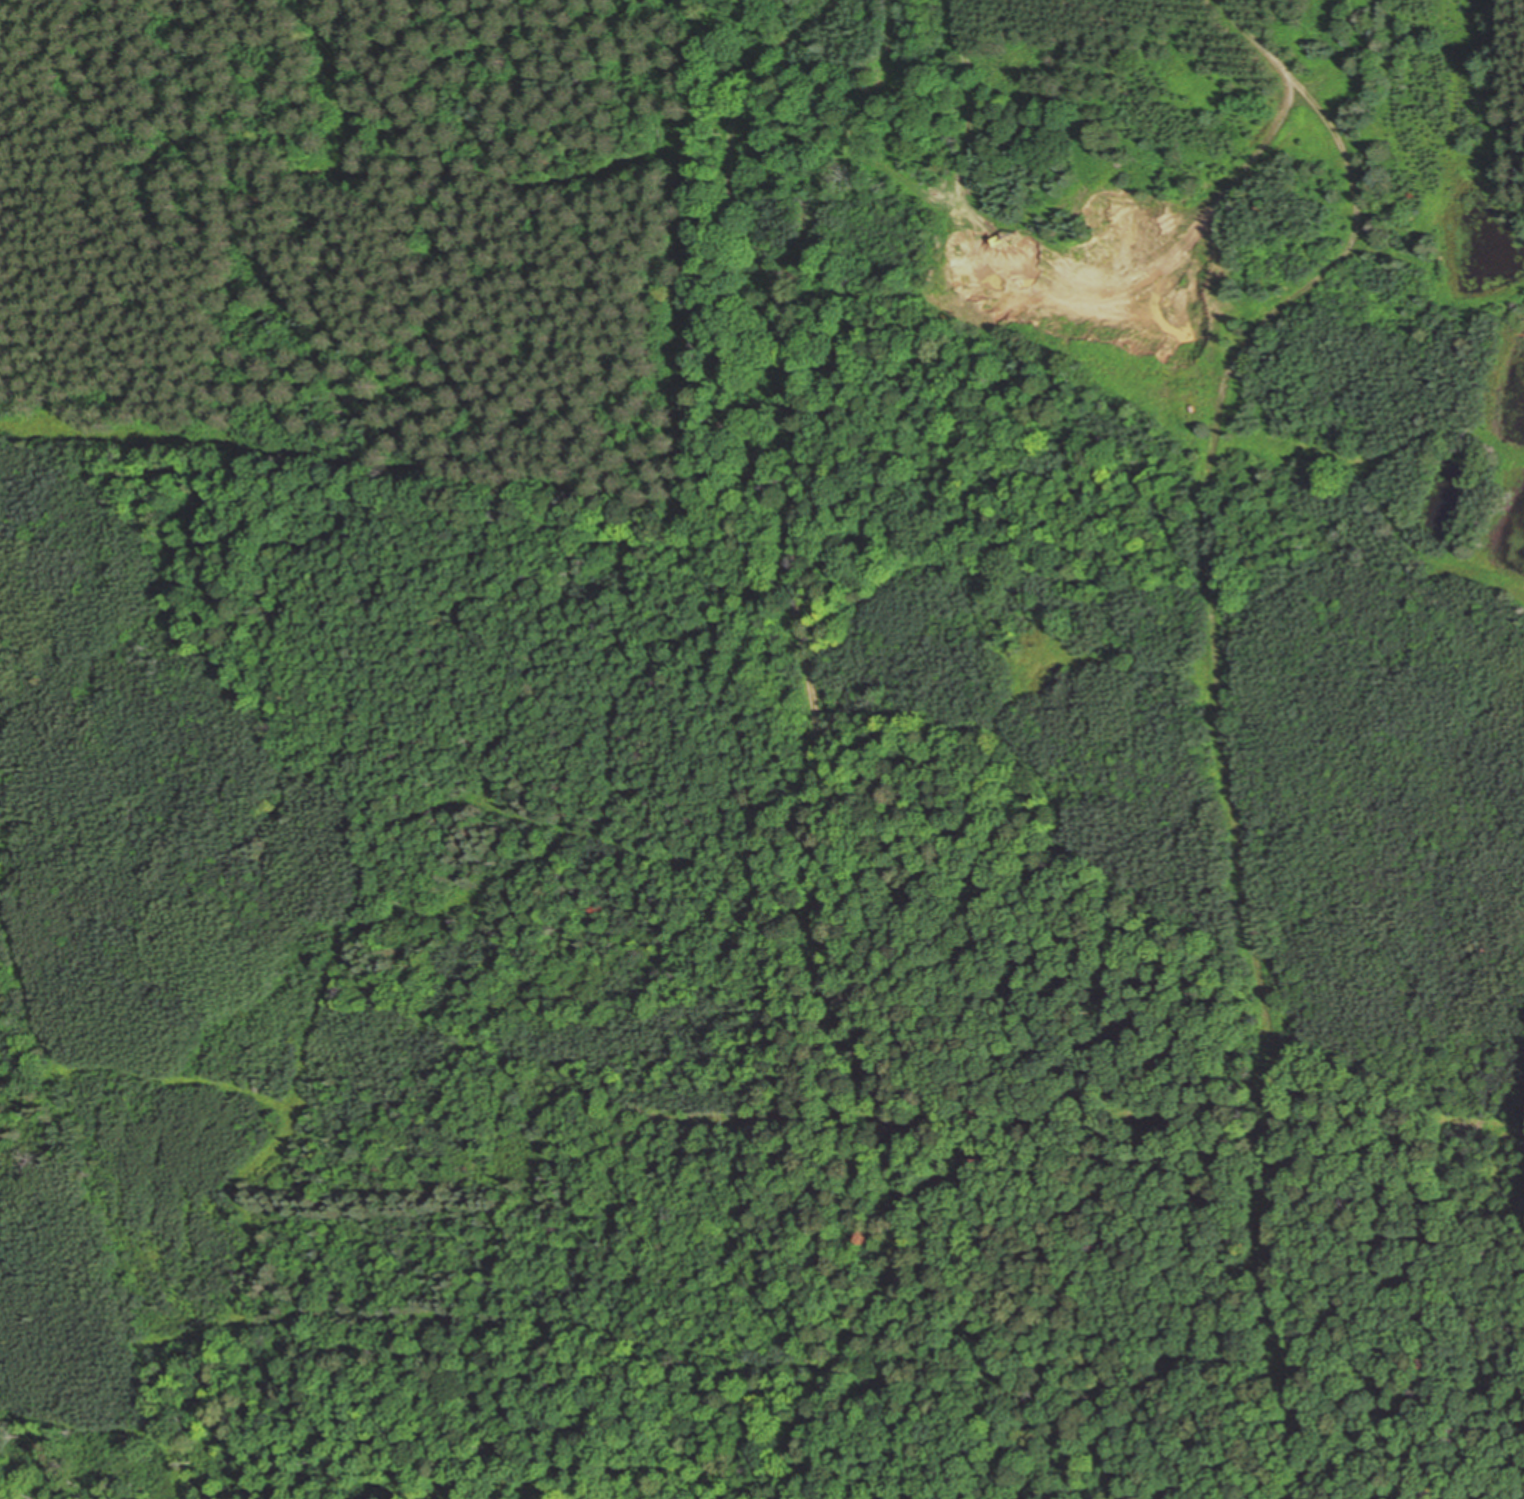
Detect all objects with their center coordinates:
road: (1353, 183)
road: (812, 746)
road: (1251, 927)

